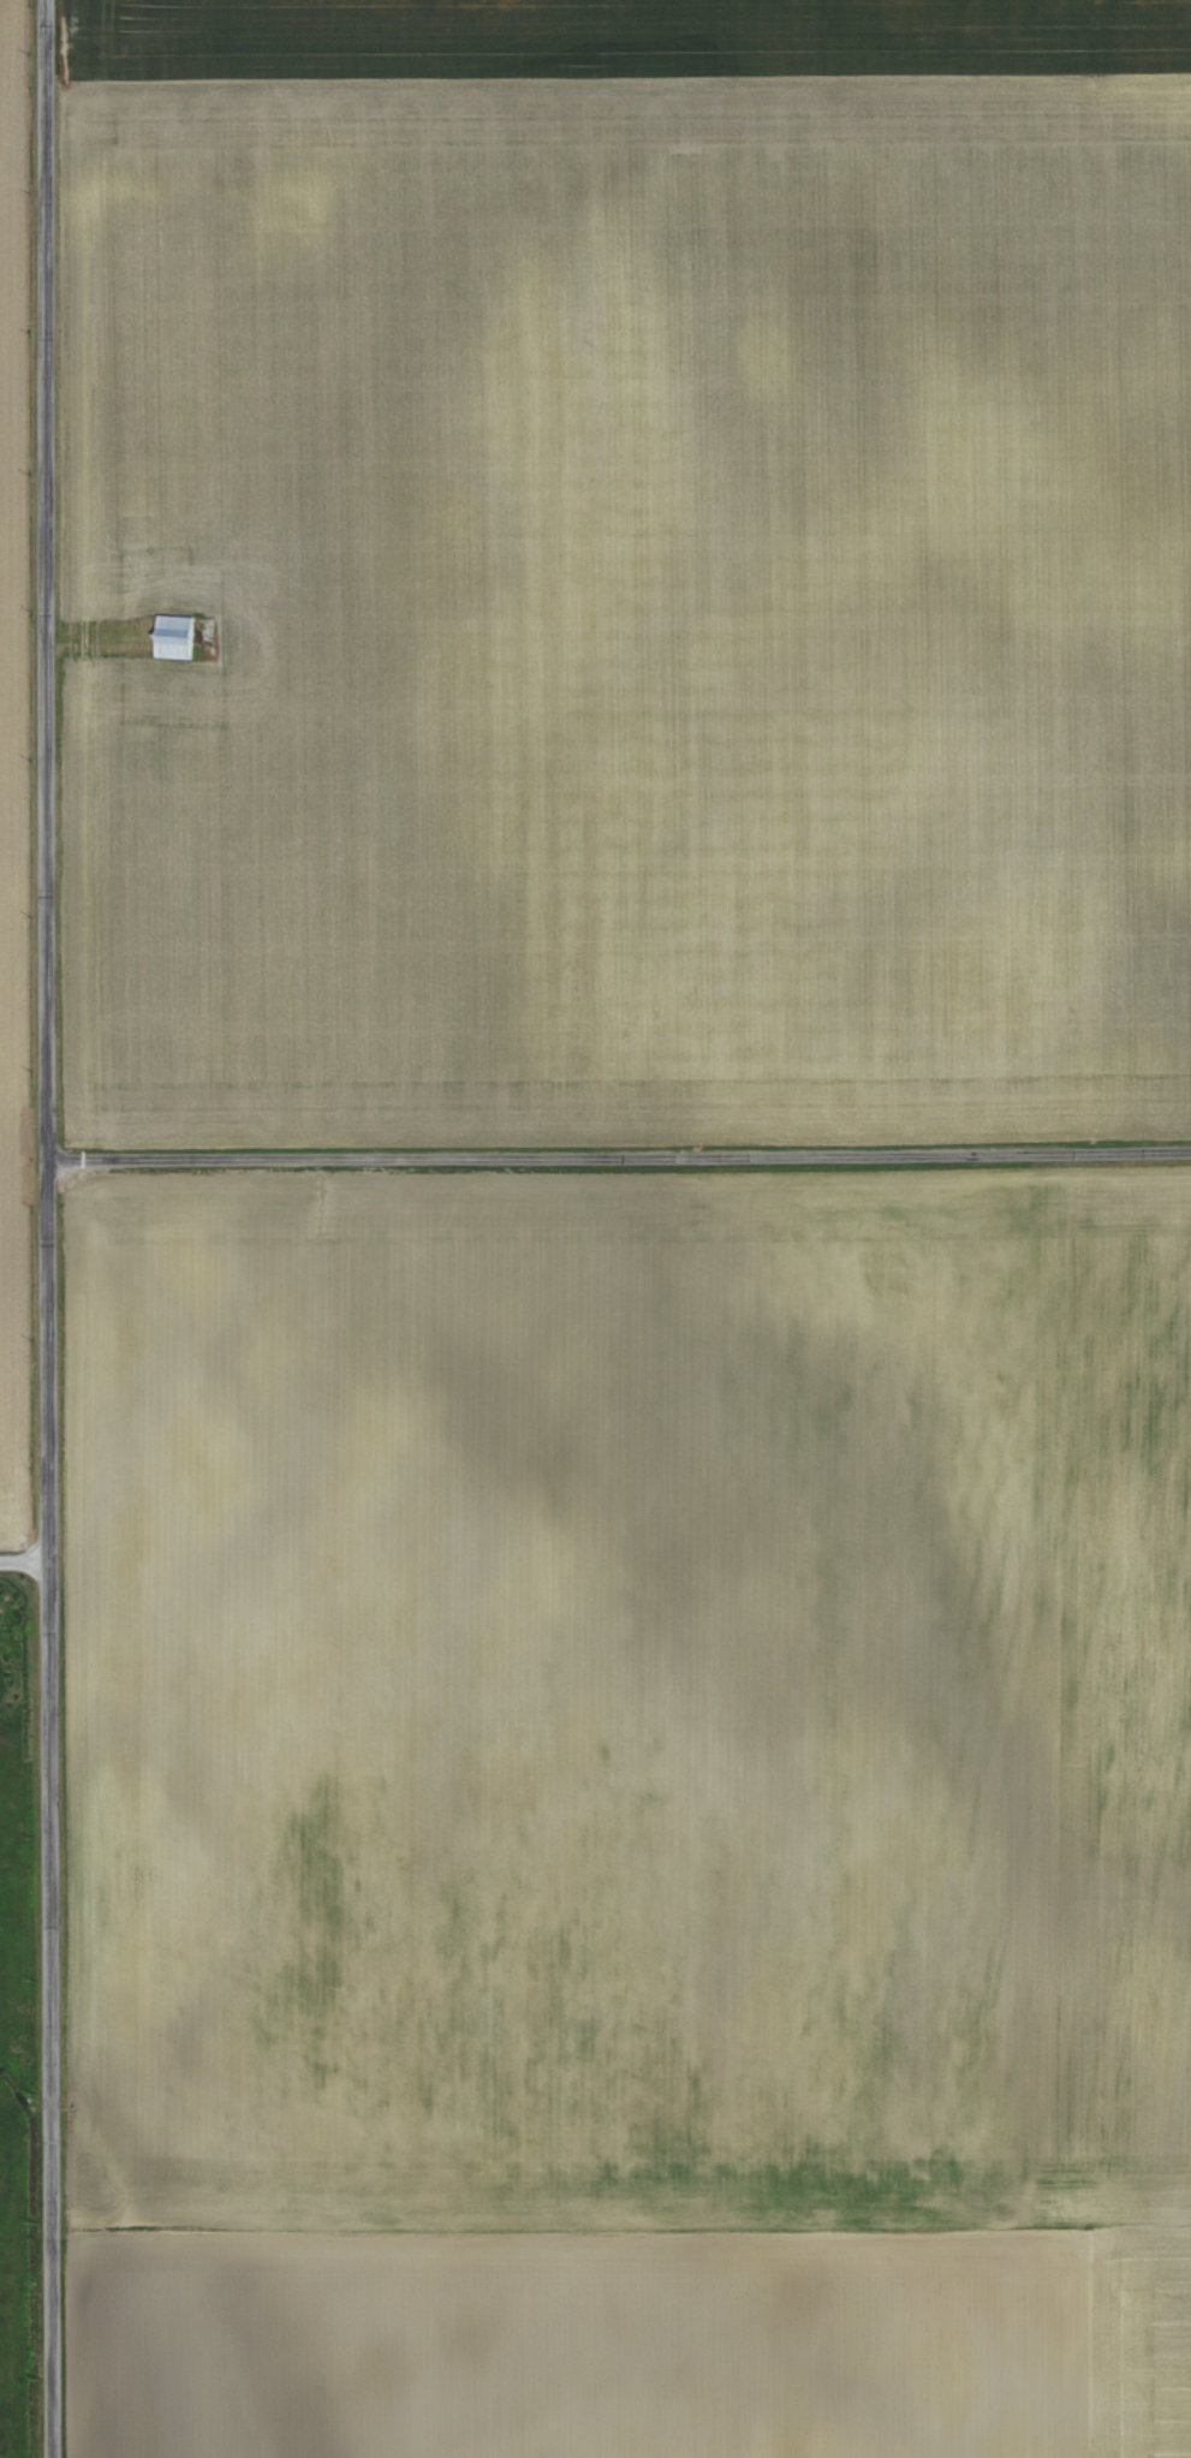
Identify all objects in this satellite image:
road: (617, 1151)
road: (43, 1228)
road: (24, 1559)

